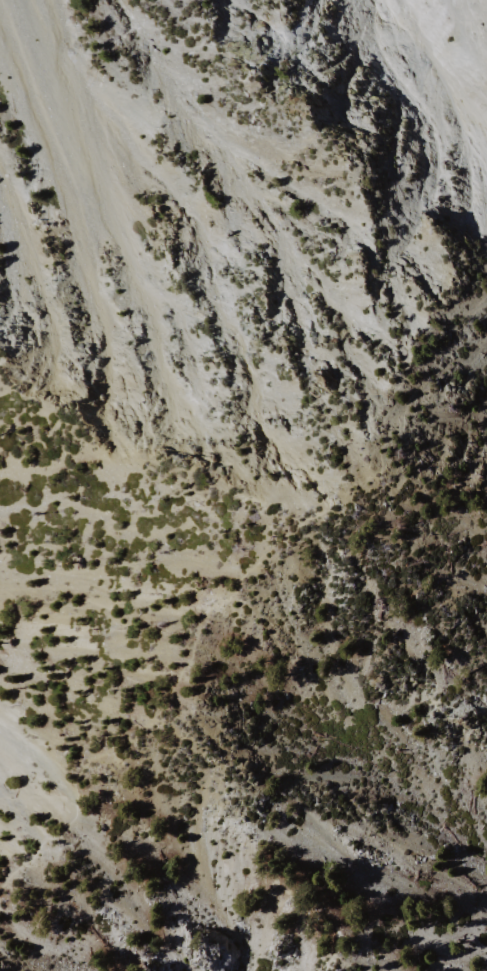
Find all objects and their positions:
road: (163, 692)

